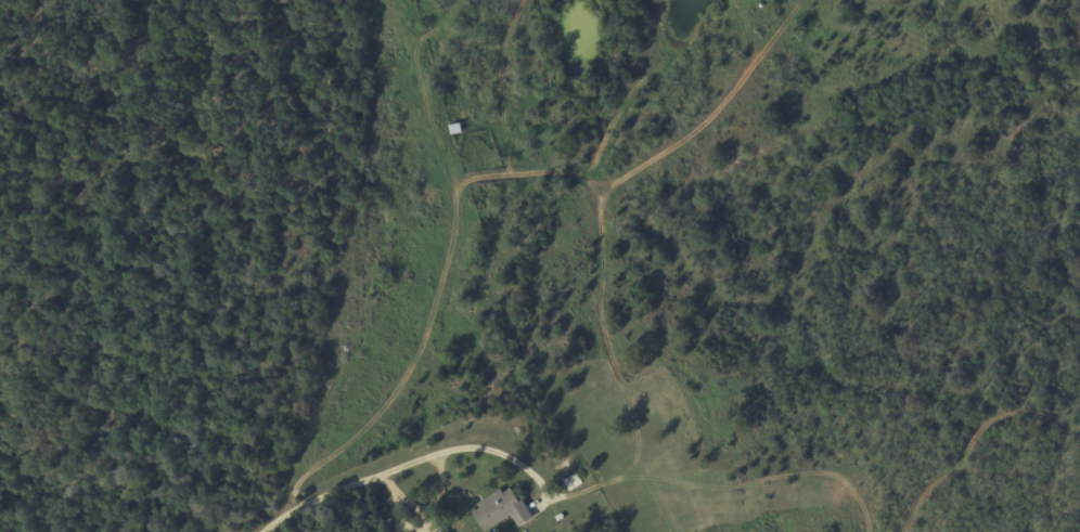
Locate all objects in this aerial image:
road: (399, 467)
building: (502, 509)
building: (445, 531)

